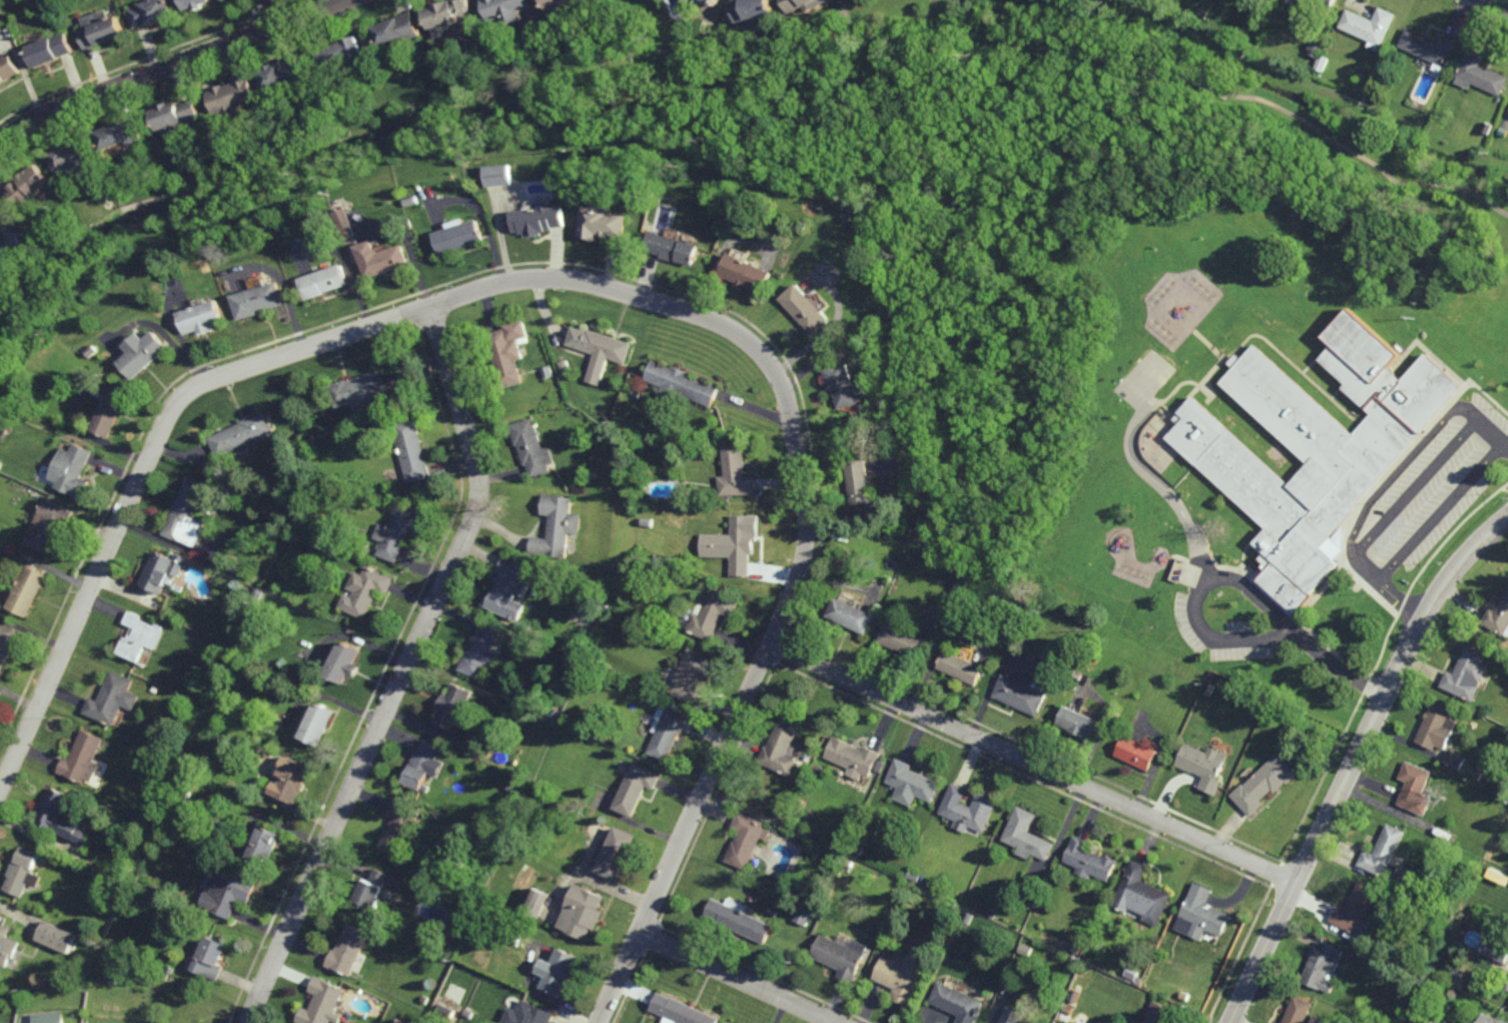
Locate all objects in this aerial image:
building: (699, 1)
building: (713, 1)
building: (690, 2)
building: (560, 3)
building: (195, 4)
building: (805, 4)
road: (1497, 4)
building: (1310, 6)
building: (506, 9)
building: (756, 9)
building: (151, 12)
road: (272, 12)
building: (448, 12)
building: (1369, 25)
building: (398, 30)
building: (102, 31)
building: (1429, 46)
building: (1314, 47)
building: (50, 49)
building: (340, 51)
building: (1321, 62)
road: (169, 65)
building: (8, 68)
building: (1480, 73)
building: (289, 74)
building: (237, 93)
building: (1374, 97)
road: (1264, 100)
building: (336, 103)
building: (180, 114)
building: (1378, 117)
building: (122, 133)
building: (73, 158)
building: (501, 175)
building: (28, 185)
building: (850, 215)
building: (344, 217)
building: (540, 219)
building: (605, 222)
building: (802, 227)
building: (459, 235)
building: (675, 248)
building: (4, 254)
building: (380, 259)
building: (746, 273)
park: (1008, 280)
building: (325, 282)
road: (615, 287)
building: (262, 301)
building: (805, 309)
building: (206, 319)
building: (867, 338)
building: (601, 347)
building: (509, 354)
building: (147, 356)
building: (567, 367)
building: (549, 372)
building: (683, 385)
building: (845, 386)
building: (360, 392)
building: (637, 392)
building: (112, 414)
road: (1487, 428)
building: (244, 437)
building: (313, 439)
building: (1315, 444)
building: (533, 448)
building: (412, 451)
building: (661, 456)
building: (1, 468)
building: (736, 472)
building: (75, 473)
road: (1397, 473)
building: (859, 483)
road: (1165, 489)
road: (1440, 513)
building: (190, 514)
building: (51, 526)
building: (556, 526)
building: (397, 529)
building: (742, 542)
building: (571, 554)
building: (655, 557)
building: (165, 567)
building: (236, 569)
building: (633, 581)
road: (1240, 583)
building: (509, 587)
building: (29, 588)
building: (365, 589)
road: (1386, 590)
building: (712, 612)
building: (850, 614)
building: (1498, 615)
building: (683, 623)
building: (142, 634)
building: (902, 639)
building: (6, 642)
building: (479, 650)
building: (343, 662)
building: (960, 667)
road: (406, 669)
building: (1466, 673)
building: (690, 675)
building: (1077, 676)
building: (619, 682)
building: (155, 687)
building: (1020, 695)
building: (113, 697)
building: (1253, 700)
building: (451, 705)
building: (1270, 706)
building: (1079, 722)
building: (317, 724)
building: (1437, 726)
building: (666, 733)
building: (780, 746)
building: (1136, 752)
building: (83, 756)
building: (852, 756)
building: (1455, 759)
road: (1355, 760)
road: (1034, 763)
building: (422, 764)
building: (879, 765)
building: (1203, 765)
building: (817, 767)
building: (1477, 773)
building: (911, 780)
building: (291, 781)
building: (1264, 783)
building: (1415, 787)
building: (635, 788)
building: (457, 803)
building: (971, 812)
building: (61, 815)
building: (172, 823)
building: (398, 827)
building: (145, 832)
building: (1026, 834)
building: (745, 839)
building: (263, 846)
building: (858, 850)
building: (616, 852)
building: (1384, 853)
building: (1088, 861)
building: (23, 871)
building: (913, 876)
building: (1416, 882)
building: (152, 889)
building: (371, 890)
building: (227, 891)
building: (1141, 894)
building: (494, 895)
building: (536, 902)
building: (467, 909)
building: (1357, 909)
building: (585, 910)
building: (991, 913)
building: (1201, 914)
building: (803, 915)
building: (1491, 915)
building: (738, 918)
building: (967, 919)
building: (159, 932)
building: (514, 935)
building: (57, 936)
building: (7, 946)
building: (1075, 949)
building: (1497, 949)
building: (348, 950)
building: (1026, 950)
building: (842, 956)
building: (213, 957)
building: (1323, 967)
building: (561, 971)
building: (167, 972)
building: (157, 973)
building: (1458, 973)
building: (905, 975)
road: (740, 977)
building: (1138, 980)
building: (1507, 989)
building: (425, 999)
building: (321, 1003)
building: (957, 1003)
building: (1068, 1010)
building: (1298, 1010)
building: (448, 1011)
building: (679, 1011)
building: (469, 1014)
building: (530, 1014)
building: (1160, 1014)
building: (48, 1017)
building: (1012, 1017)
building: (1489, 1019)
building: (1319, 1020)

